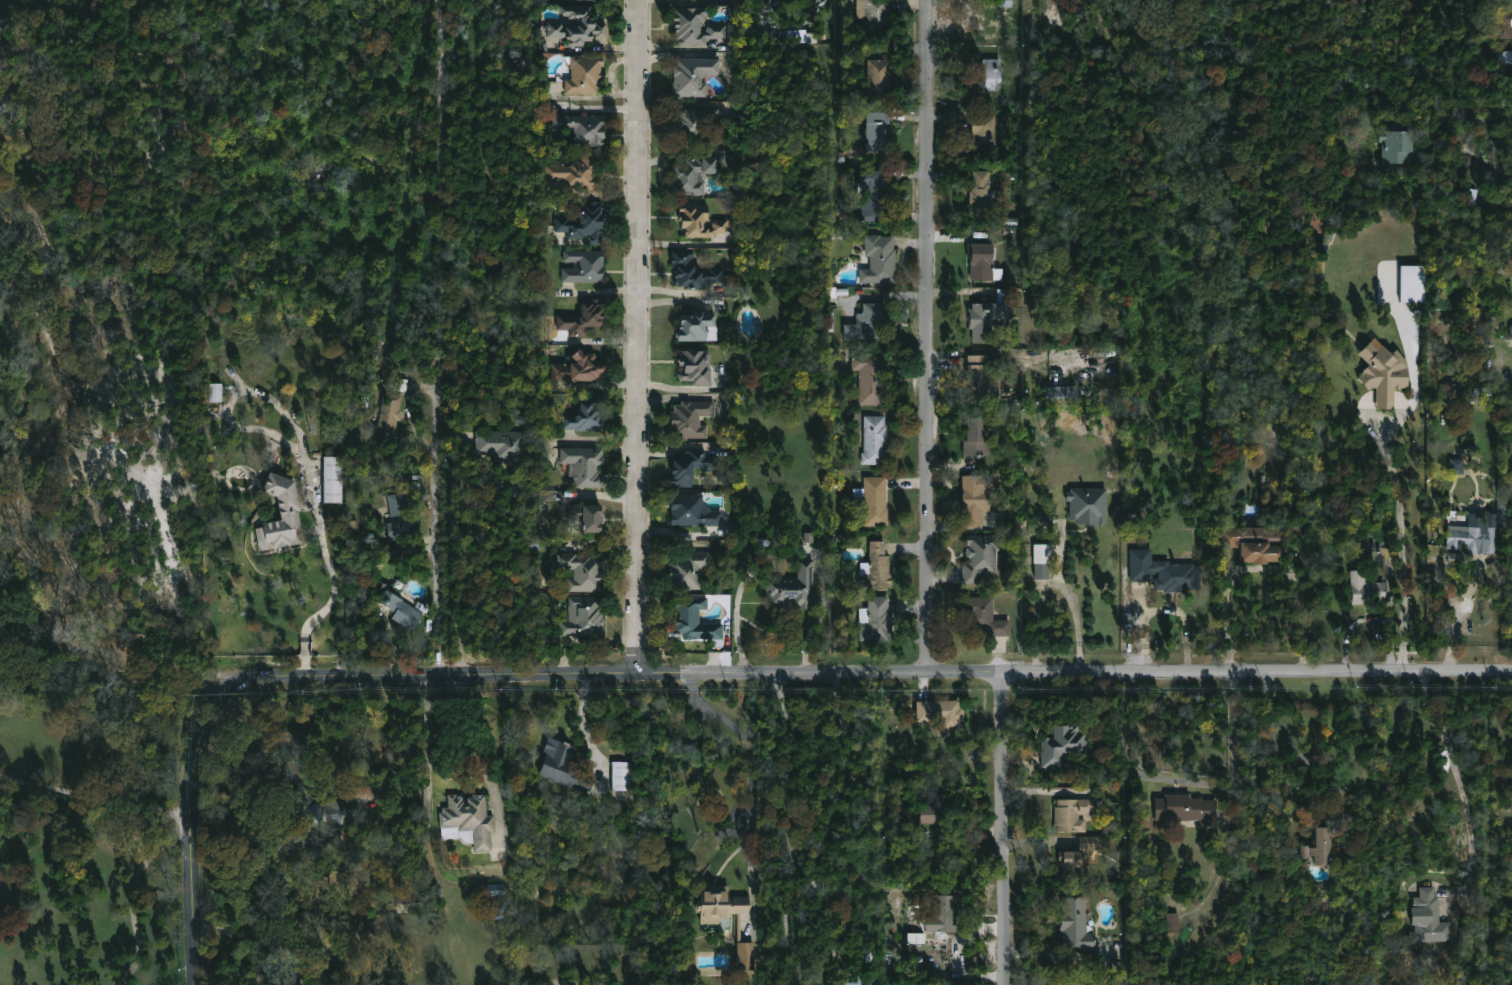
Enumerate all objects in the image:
building: (598, 0)
building: (875, 15)
building: (1504, 21)
building: (577, 26)
building: (695, 26)
building: (801, 36)
building: (989, 73)
building: (585, 74)
building: (693, 76)
building: (881, 82)
building: (10, 101)
road: (1476, 119)
building: (698, 127)
building: (582, 128)
building: (986, 128)
building: (879, 132)
building: (1403, 146)
building: (577, 173)
building: (694, 174)
building: (983, 188)
building: (875, 192)
building: (700, 221)
building: (585, 223)
building: (880, 259)
building: (985, 263)
building: (585, 266)
building: (694, 272)
building: (1412, 284)
building: (987, 318)
building: (584, 319)
building: (867, 323)
building: (698, 328)
building: (1509, 333)
road: (637, 336)
road: (447, 337)
road: (930, 337)
building: (696, 367)
building: (579, 368)
building: (1387, 377)
building: (870, 378)
building: (981, 382)
building: (215, 392)
building: (1062, 395)
building: (390, 415)
building: (588, 416)
building: (691, 419)
building: (978, 438)
building: (875, 440)
building: (503, 445)
building: (1456, 466)
building: (585, 467)
building: (692, 467)
building: (1511, 468)
building: (333, 480)
building: (977, 498)
building: (874, 500)
building: (1089, 505)
building: (693, 511)
building: (282, 515)
building: (400, 517)
building: (588, 517)
building: (1476, 540)
road: (1401, 543)
building: (1260, 544)
building: (981, 556)
building: (1043, 561)
building: (879, 567)
road: (333, 568)
road: (1262, 569)
building: (689, 570)
building: (584, 572)
building: (1165, 573)
building: (794, 588)
building: (1369, 588)
building: (1511, 590)
road: (1057, 591)
building: (402, 610)
road: (1461, 616)
building: (986, 617)
road: (1370, 618)
building: (694, 619)
building: (876, 619)
building: (585, 620)
road: (773, 673)
building: (941, 714)
road: (585, 722)
road: (1286, 734)
building: (1062, 744)
road: (755, 750)
road: (482, 753)
building: (565, 767)
building: (621, 776)
road: (1185, 780)
road: (1460, 780)
road: (89, 795)
building: (1511, 801)
building: (939, 809)
building: (1187, 809)
building: (1073, 814)
building: (314, 815)
building: (469, 820)
road: (1007, 829)
road: (793, 830)
road: (177, 841)
building: (1325, 845)
building: (1072, 861)
building: (496, 889)
building: (409, 890)
road: (135, 907)
road: (185, 911)
building: (945, 914)
building: (727, 916)
building: (1432, 918)
building: (1172, 923)
building: (1076, 924)
road: (238, 937)
building: (859, 979)

